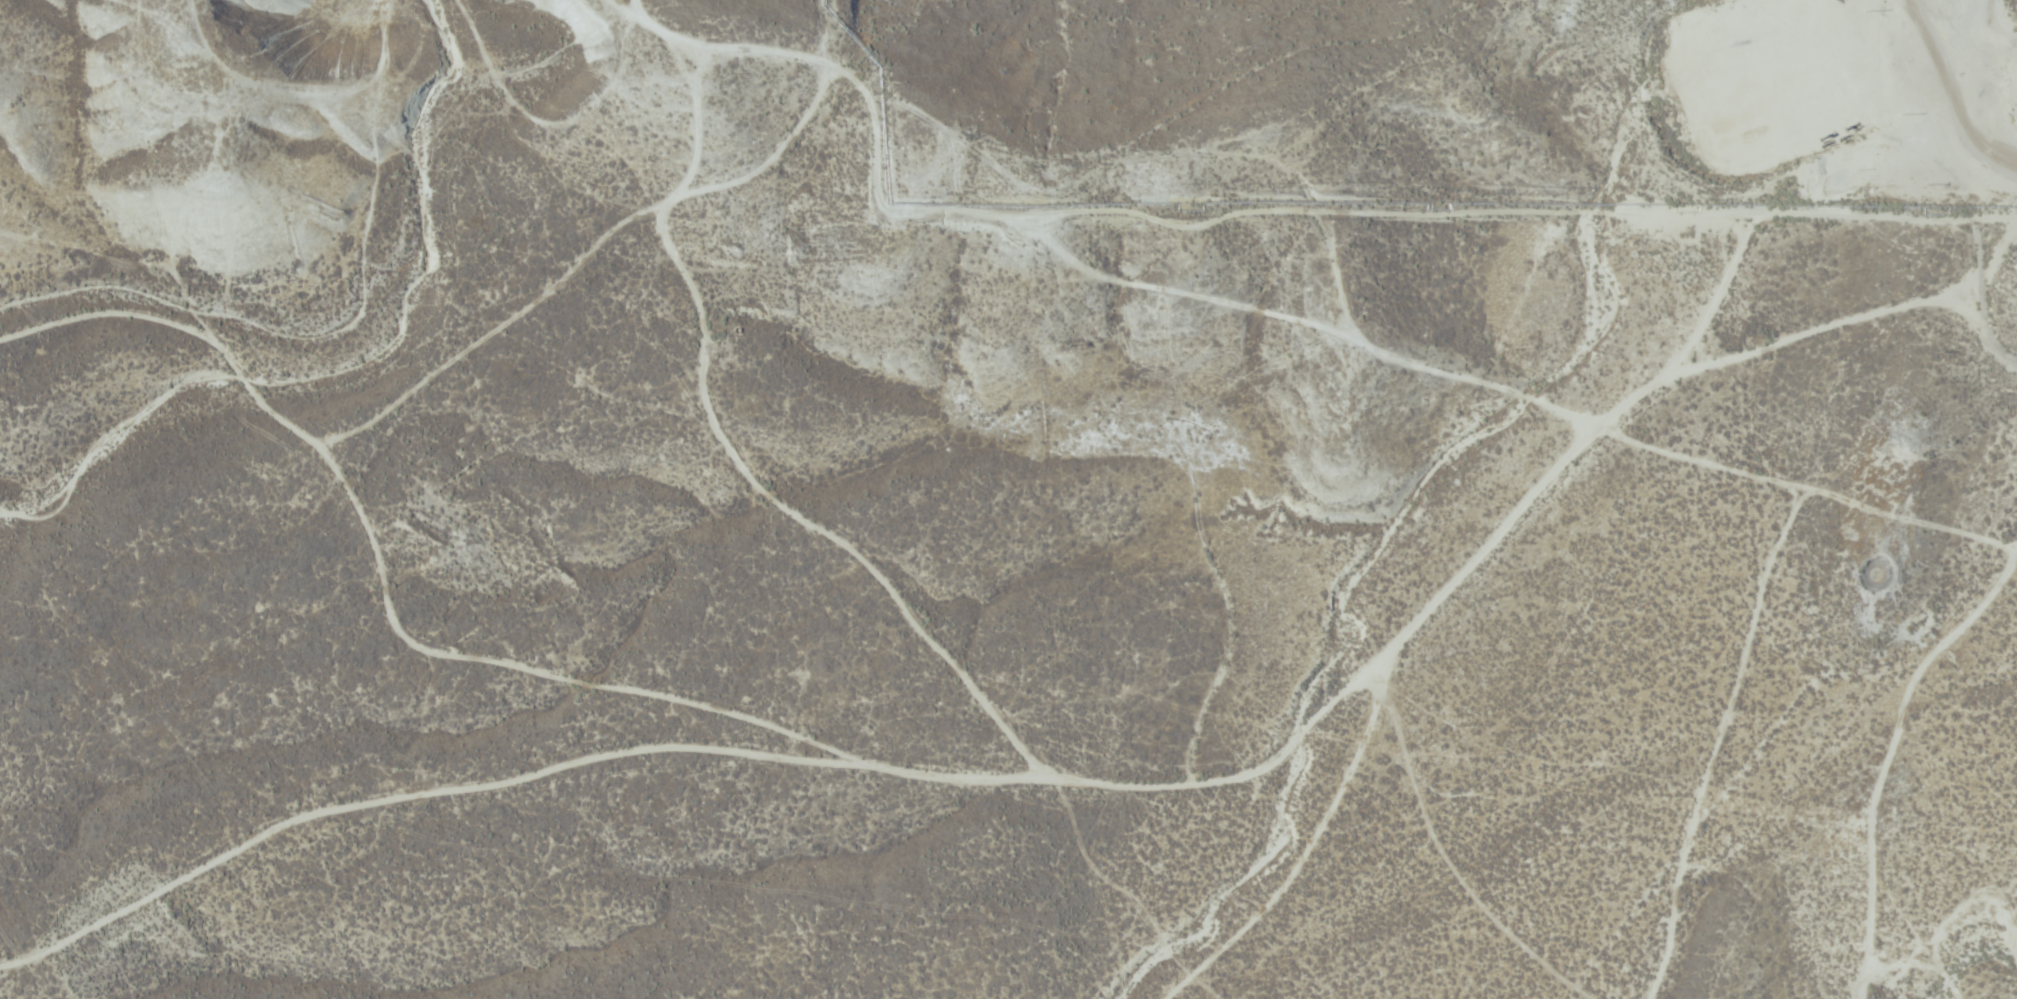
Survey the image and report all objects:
road: (839, 536)
road: (506, 784)

